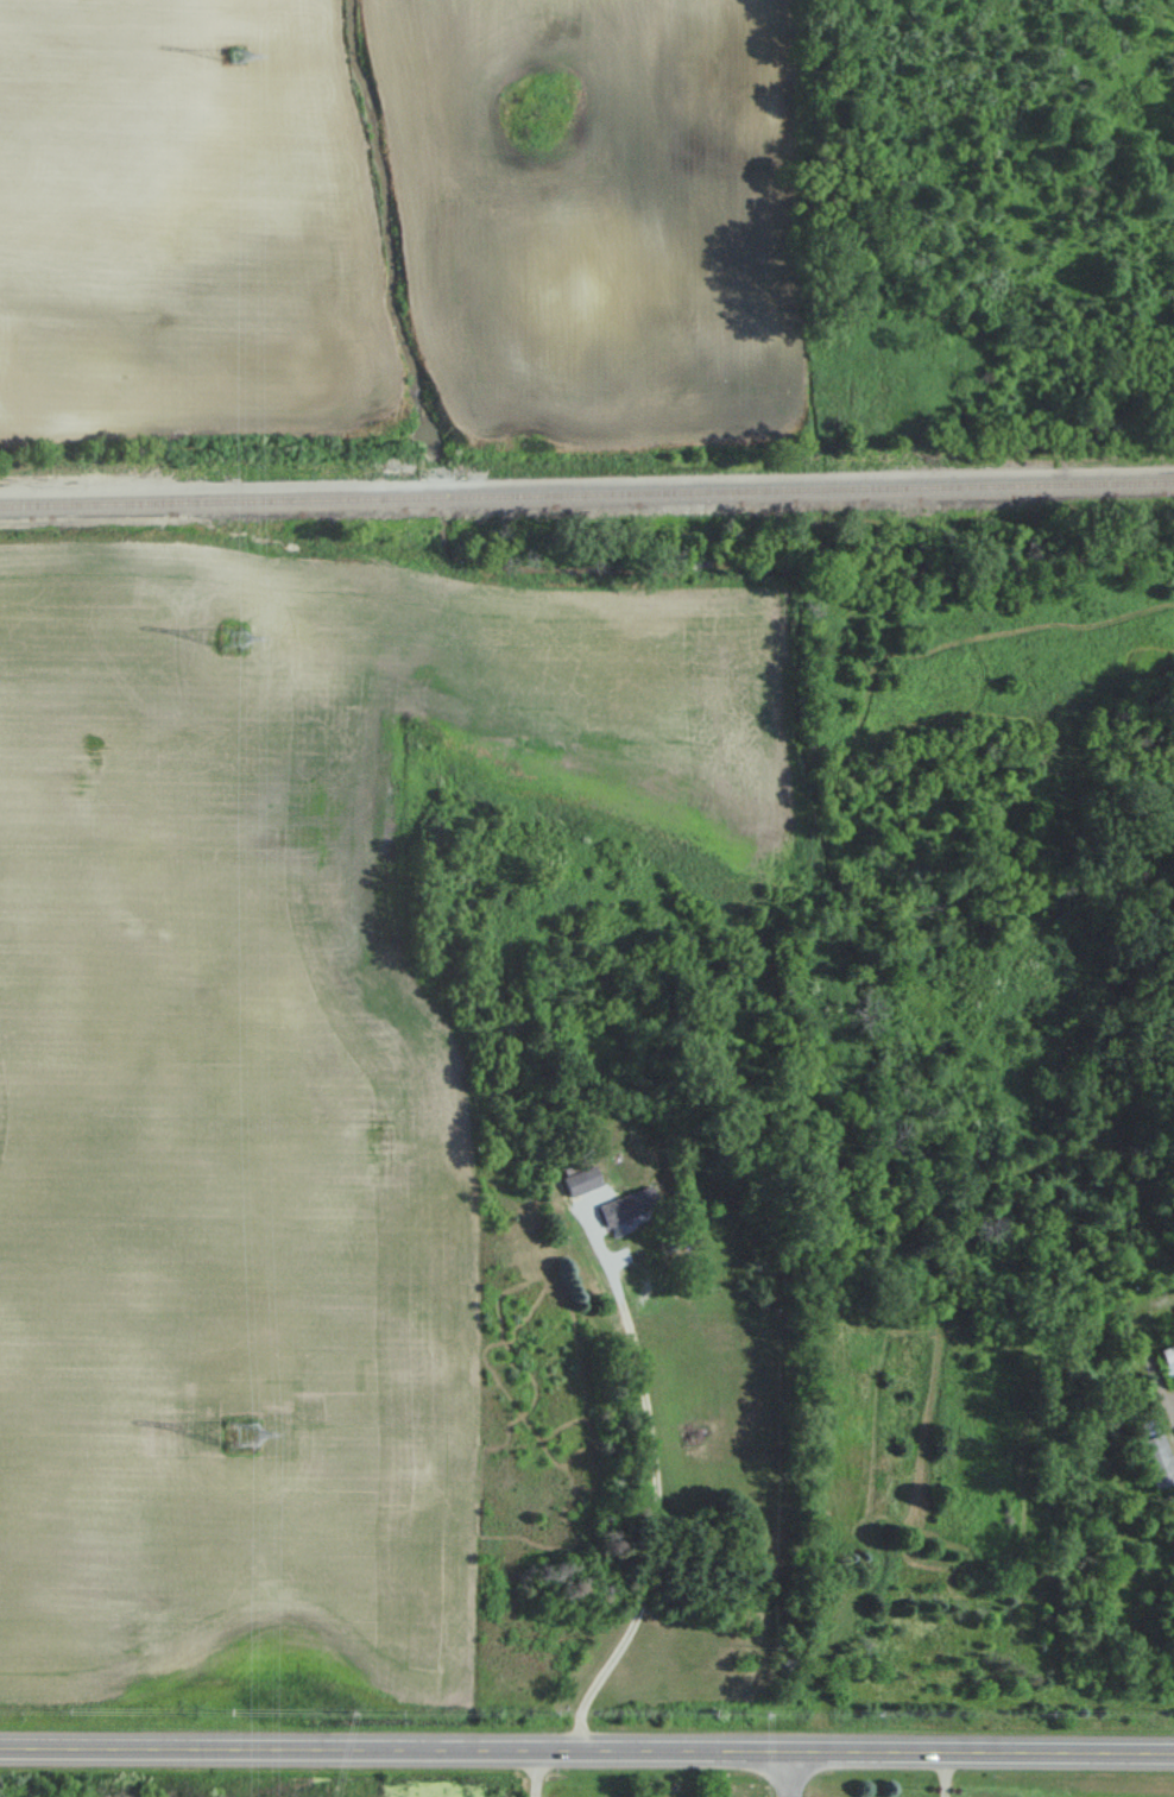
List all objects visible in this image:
power tower: (229, 51)
railway: (586, 490)
power tower: (232, 637)
building: (582, 1179)
building: (629, 1205)
road: (1150, 1290)
building: (1170, 1369)
park: (945, 1430)
power tower: (241, 1435)
building: (1159, 1459)
road: (648, 1476)
road: (587, 1748)
road: (535, 1772)
road: (790, 1772)
road: (942, 1773)

